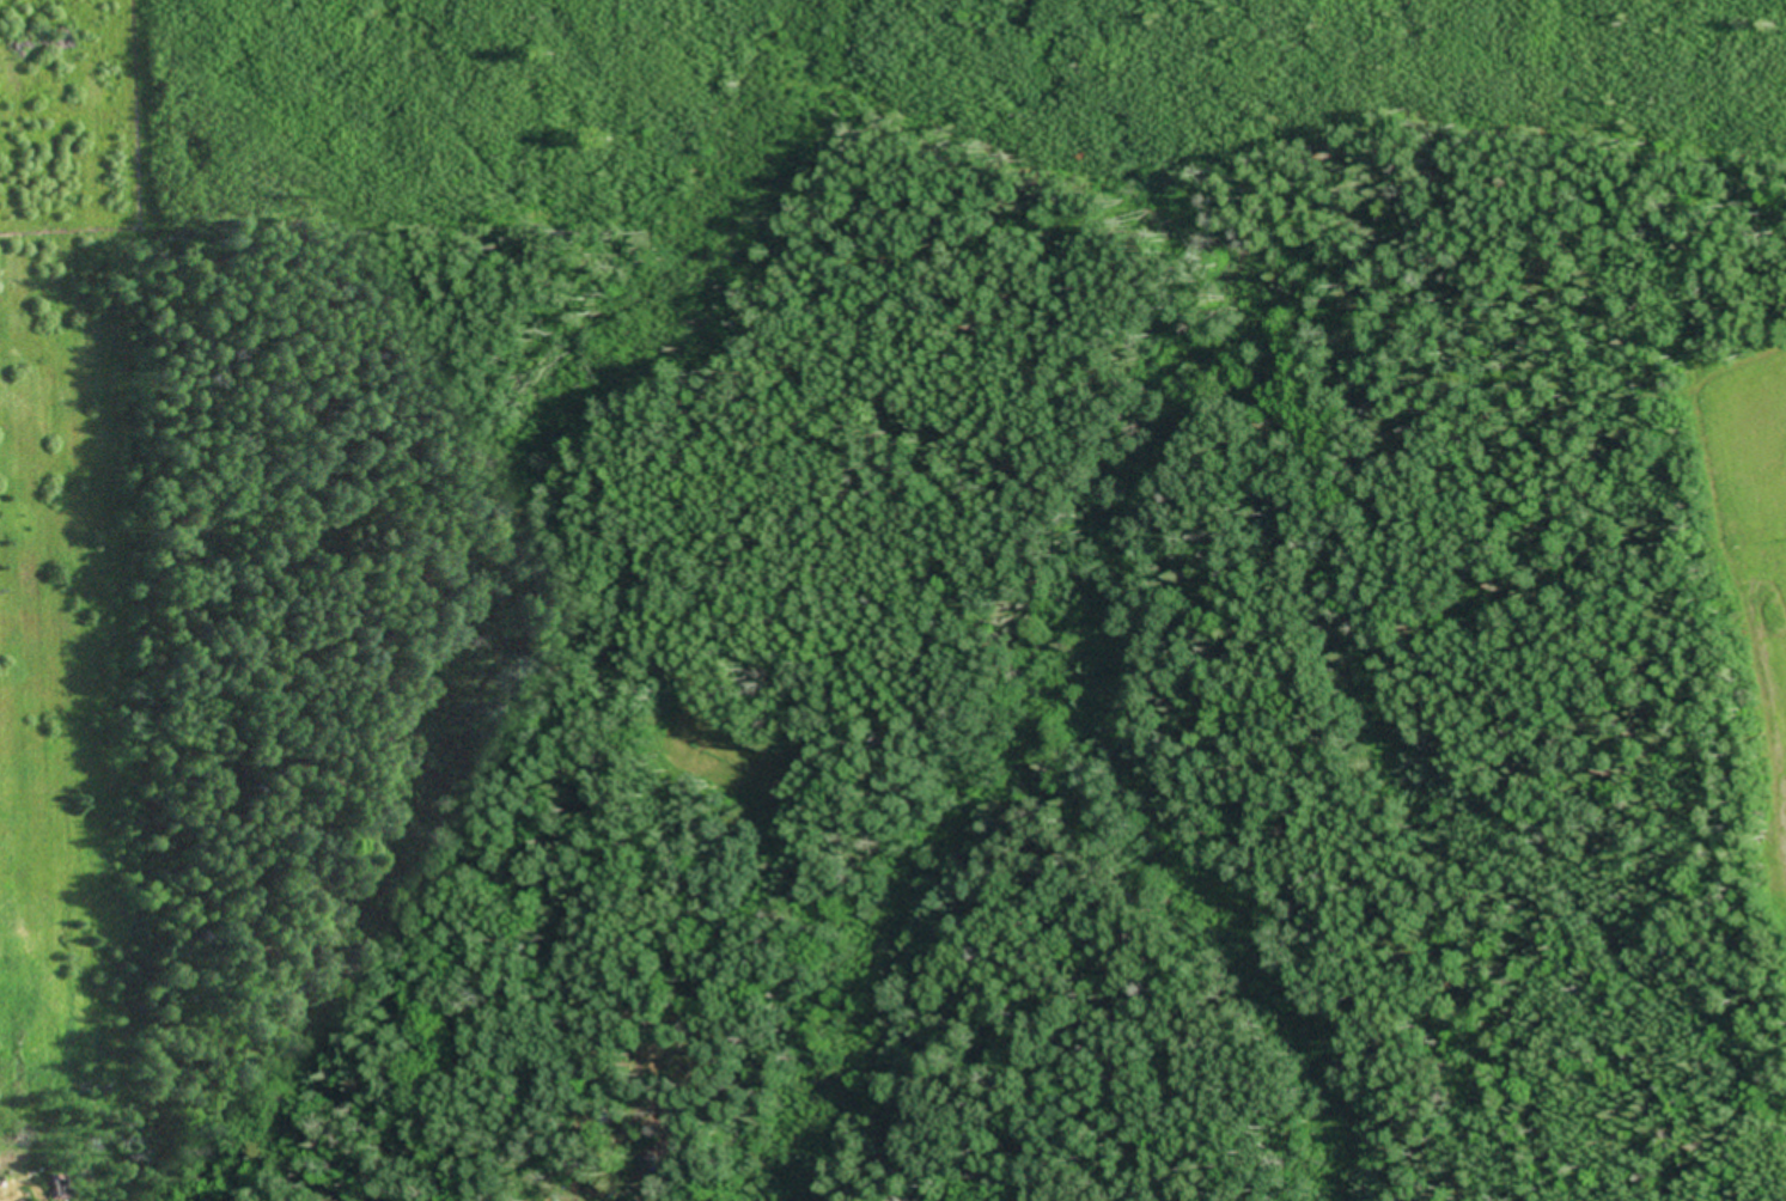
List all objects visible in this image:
building: (50, 1190)

